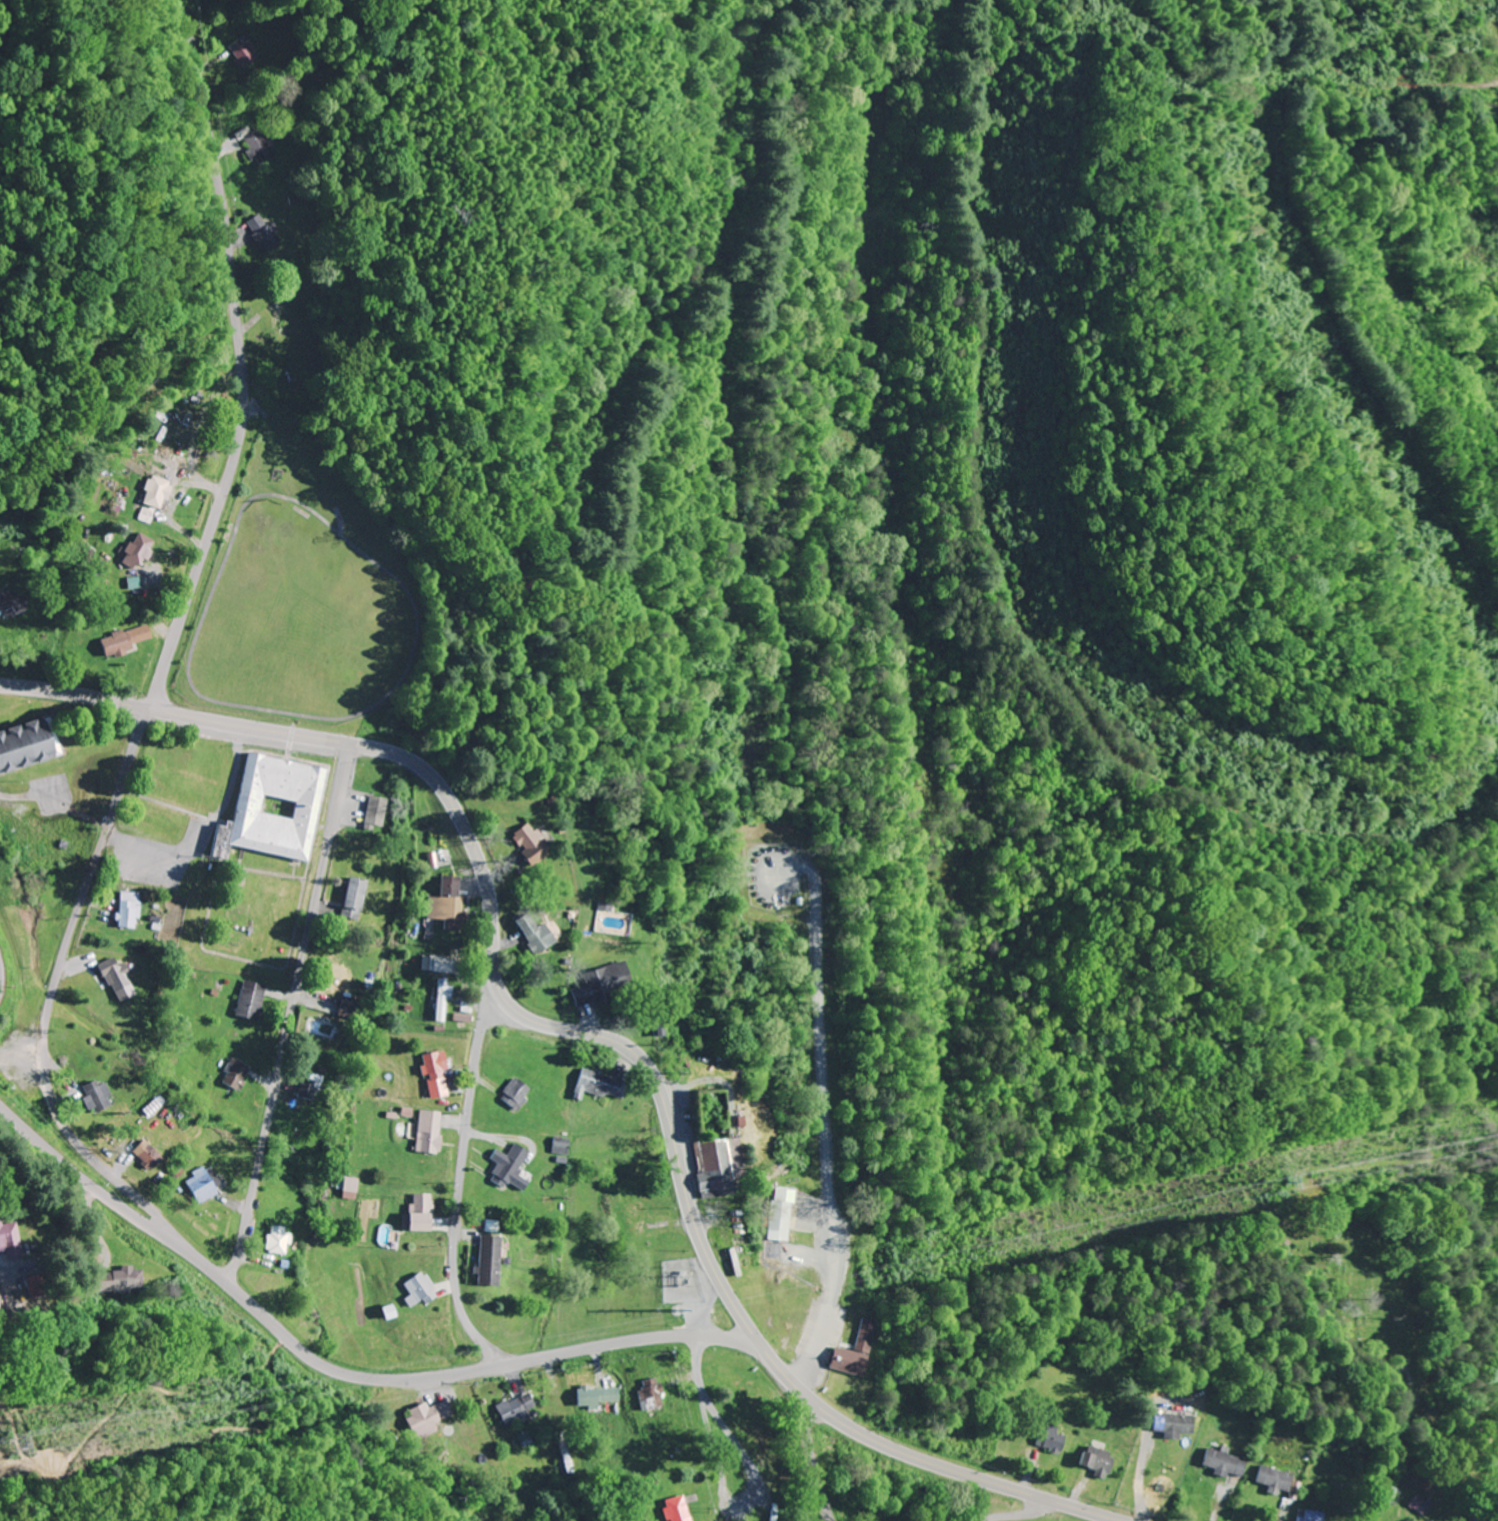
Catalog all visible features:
building: (244, 50)
building: (257, 144)
building: (263, 230)
building: (285, 316)
road: (244, 360)
building: (169, 443)
building: (154, 491)
building: (135, 550)
park: (307, 589)
building: (8, 601)
building: (125, 640)
building: (20, 746)
building: (271, 807)
building: (374, 810)
building: (527, 844)
building: (351, 893)
building: (445, 902)
building: (128, 909)
building: (533, 933)
building: (441, 962)
road: (0, 973)
building: (339, 974)
building: (119, 980)
building: (601, 984)
building: (249, 999)
building: (440, 999)
road: (292, 1013)
road: (587, 1032)
building: (233, 1073)
building: (433, 1073)
building: (598, 1084)
building: (307, 1085)
building: (95, 1092)
building: (514, 1092)
road: (828, 1121)
building: (427, 1130)
building: (559, 1144)
road: (462, 1165)
building: (716, 1166)
building: (509, 1167)
building: (202, 1182)
power tower: (1285, 1182)
building: (348, 1183)
road: (98, 1190)
building: (417, 1211)
building: (779, 1214)
building: (635, 1216)
building: (386, 1235)
building: (276, 1238)
building: (8, 1239)
road: (196, 1252)
building: (486, 1258)
building: (117, 1279)
power substation: (681, 1281)
building: (416, 1288)
power tower: (687, 1316)
building: (853, 1350)
building: (647, 1392)
building: (594, 1395)
building: (515, 1407)
building: (426, 1416)
road: (706, 1423)
building: (1171, 1423)
building: (1050, 1437)
power tower: (22, 1444)
road: (816, 1456)
building: (1095, 1459)
building: (1223, 1461)
building: (1273, 1478)
building: (674, 1508)
road: (1017, 1514)

